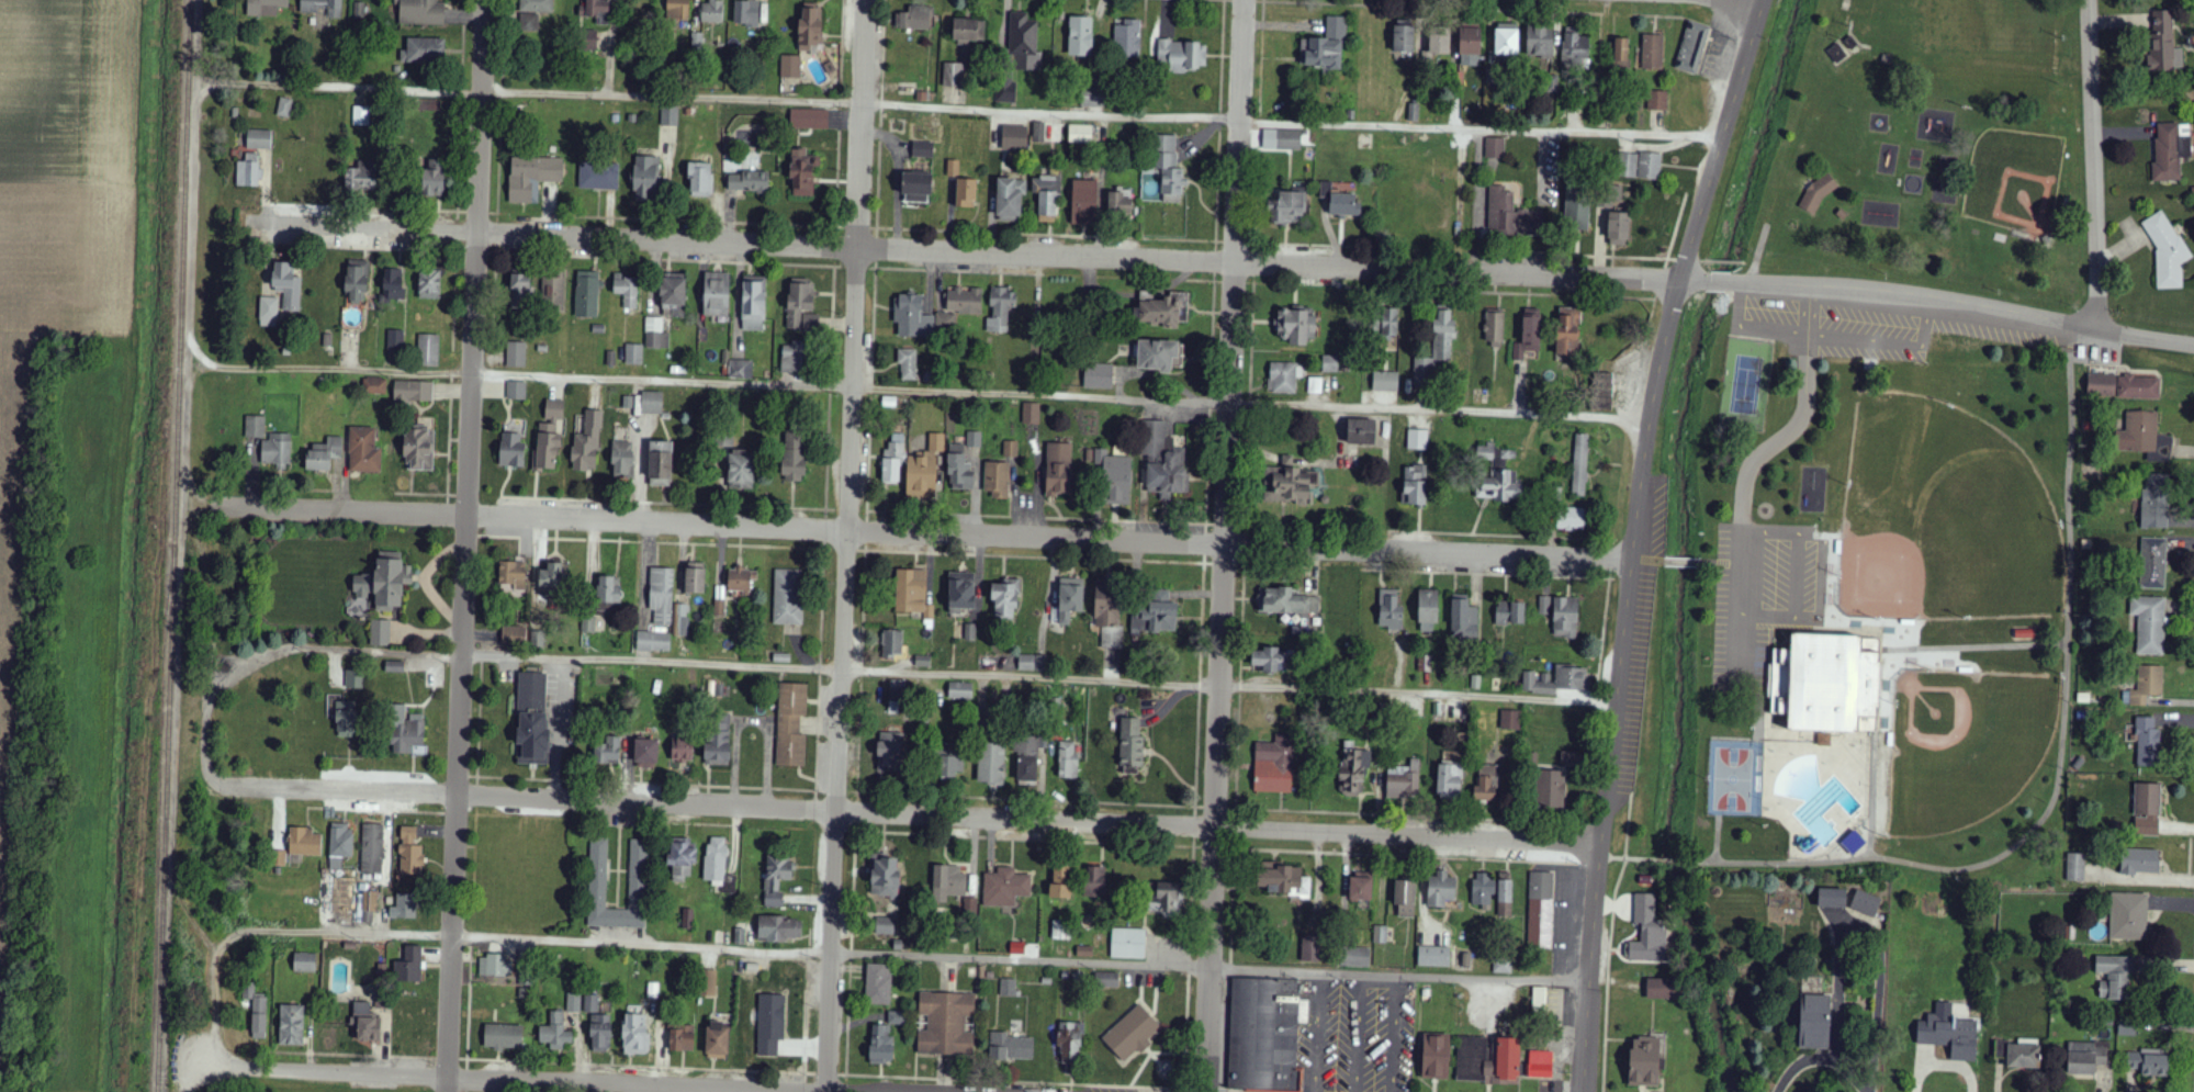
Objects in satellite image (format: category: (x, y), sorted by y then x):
road: (1244, 0)
building: (266, 7)
building: (323, 7)
building: (677, 10)
building: (598, 11)
building: (420, 12)
building: (712, 12)
building: (532, 13)
building: (746, 13)
building: (914, 19)
building: (810, 27)
building: (966, 30)
building: (1080, 36)
building: (1404, 38)
building: (1128, 40)
building: (1507, 40)
building: (589, 41)
building: (1439, 42)
building: (1540, 42)
building: (1023, 43)
building: (1470, 45)
building: (2164, 45)
building: (1325, 47)
building: (1576, 48)
road: (1262, 49)
building: (1621, 49)
building: (1692, 49)
building: (423, 50)
building: (1652, 52)
building: (1182, 55)
building: (790, 67)
building: (953, 77)
crop: (68, 90)
building: (1005, 90)
building: (1093, 100)
building: (1657, 101)
building: (284, 108)
road: (958, 108)
road: (461, 111)
road: (839, 113)
road: (880, 113)
building: (361, 116)
building: (670, 116)
road: (1219, 116)
building: (809, 120)
building: (1080, 134)
building: (1014, 137)
building: (259, 139)
building: (1287, 140)
building: (1495, 148)
park: (1926, 148)
building: (922, 149)
building: (2170, 151)
road: (498, 160)
road: (2088, 165)
building: (1629, 166)
building: (1650, 166)
building: (953, 168)
building: (1169, 168)
building: (248, 171)
building: (802, 173)
building: (532, 176)
building: (598, 176)
building: (360, 179)
building: (645, 179)
building: (700, 180)
park: (2015, 180)
building: (432, 182)
building: (747, 182)
building: (916, 188)
building: (1326, 190)
building: (966, 193)
building: (1818, 193)
building: (1047, 195)
building: (1010, 199)
building: (1084, 202)
building: (1118, 203)
building: (1344, 205)
building: (1285, 207)
road: (359, 209)
building: (1500, 210)
building: (1577, 210)
road: (462, 212)
road: (477, 212)
building: (1842, 214)
road: (707, 223)
road: (369, 228)
road: (839, 228)
road: (856, 228)
road: (877, 229)
building: (1619, 229)
road: (457, 232)
road: (1050, 235)
road: (1219, 241)
road: (1236, 243)
road: (1294, 244)
road: (497, 249)
road: (876, 249)
building: (2167, 251)
road: (1091, 257)
road: (649, 259)
road: (1672, 260)
road: (1215, 261)
road: (1687, 261)
road: (1251, 262)
road: (1702, 262)
road: (1722, 262)
road: (1743, 263)
road: (876, 266)
road: (854, 267)
road: (873, 268)
road: (901, 269)
road: (1215, 278)
road: (1160, 280)
building: (357, 281)
road: (1719, 281)
road: (1234, 282)
road: (1250, 282)
building: (393, 284)
building: (288, 285)
building: (429, 285)
road: (1355, 286)
building: (553, 290)
building: (520, 291)
building: (627, 292)
building: (586, 294)
building: (716, 294)
road: (454, 295)
building: (673, 295)
building: (798, 301)
building: (965, 302)
building: (753, 304)
road: (1965, 304)
building: (1000, 309)
building: (268, 312)
building: (1166, 312)
building: (912, 317)
building: (946, 320)
building: (811, 322)
building: (1389, 323)
building: (1296, 326)
building: (1494, 327)
parking lot: (1893, 329)
road: (1212, 333)
building: (1568, 333)
building: (656, 334)
building: (1529, 335)
building: (395, 341)
building: (1437, 349)
building: (428, 350)
building: (516, 354)
building: (633, 354)
building: (1157, 356)
building: (795, 358)
building: (1330, 364)
building: (909, 365)
building: (741, 370)
building: (1098, 376)
building: (1284, 378)
building: (1385, 382)
park: (1744, 382)
road: (829, 384)
building: (374, 385)
building: (2102, 386)
road: (913, 387)
building: (2138, 387)
building: (516, 391)
building: (413, 393)
road: (1208, 399)
building: (651, 403)
building: (1031, 414)
road: (1801, 416)
road: (185, 421)
building: (255, 427)
building: (1361, 432)
building: (549, 437)
building: (2145, 437)
building: (974, 439)
building: (1418, 440)
building: (587, 444)
building: (420, 446)
building: (1011, 449)
building: (511, 450)
building: (277, 451)
building: (363, 451)
building: (324, 454)
building: (622, 459)
building: (794, 459)
building: (892, 461)
building: (1161, 462)
road: (449, 463)
building: (660, 464)
building: (1580, 465)
road: (1207, 468)
building: (959, 469)
building: (741, 470)
building: (924, 470)
building: (1059, 470)
road: (868, 471)
building: (1115, 477)
building: (1498, 477)
building: (997, 480)
building: (1289, 483)
building: (1416, 486)
road: (448, 496)
building: (2154, 502)
road: (664, 504)
road: (825, 510)
road: (347, 511)
road: (846, 511)
road: (867, 513)
park: (1943, 516)
road: (1039, 518)
building: (1571, 519)
road: (1225, 525)
road: (824, 530)
road: (866, 532)
road: (1416, 532)
road: (1049, 536)
road: (1633, 540)
road: (650, 543)
road: (1204, 544)
railway: (171, 545)
road: (466, 545)
road: (843, 545)
road: (1222, 545)
road: (1245, 547)
road: (829, 550)
road: (845, 550)
road: (862, 550)
road: (1035, 558)
road: (1204, 560)
road: (1245, 562)
road: (1662, 562)
road: (1683, 562)
road: (1708, 563)
building: (2153, 563)
road: (1224, 565)
road: (1487, 574)
building: (513, 575)
road: (1797, 576)
building: (695, 578)
building: (390, 581)
building: (741, 581)
building: (551, 583)
building: (362, 587)
building: (608, 590)
building: (913, 593)
building: (961, 593)
building: (662, 596)
building: (787, 597)
parking lot: (1763, 597)
building: (1070, 599)
road: (1739, 599)
building: (1004, 600)
building: (1286, 603)
building: (1106, 605)
road: (863, 606)
building: (1544, 606)
building: (1428, 608)
building: (1391, 610)
building: (1510, 613)
building: (1156, 615)
building: (1565, 618)
building: (680, 620)
building: (1464, 620)
building: (588, 624)
building: (2149, 624)
building: (380, 633)
parking lot: (1641, 635)
building: (514, 637)
building: (1112, 638)
building: (653, 642)
building: (891, 644)
building: (1272, 662)
building: (1032, 663)
road: (819, 669)
road: (854, 671)
building: (355, 680)
building: (1556, 682)
building: (1827, 683)
building: (2147, 686)
road: (1199, 689)
road: (1239, 689)
building: (897, 690)
building: (960, 691)
crop: (7, 701)
building: (344, 716)
building: (531, 718)
building: (1510, 720)
building: (790, 725)
building: (405, 731)
road: (859, 740)
building: (1824, 740)
building: (718, 742)
park: (1962, 742)
building: (2148, 743)
building: (1130, 746)
building: (682, 750)
building: (608, 752)
building: (890, 752)
building: (646, 754)
building: (1028, 758)
building: (1068, 761)
building: (947, 762)
building: (991, 765)
building: (1273, 768)
building: (1353, 769)
road: (2058, 774)
park: (1735, 778)
road: (595, 781)
building: (1404, 781)
building: (1450, 781)
building: (1486, 785)
road: (339, 789)
building: (1551, 791)
road: (1023, 800)
road: (1216, 808)
road: (1233, 809)
building: (2148, 810)
road: (376, 811)
road: (1195, 811)
road: (857, 812)
road: (1025, 819)
road: (1534, 822)
road: (693, 824)
road: (1237, 825)
road: (1194, 826)
road: (1629, 826)
road: (857, 828)
building: (304, 843)
road: (1193, 843)
building: (1853, 843)
building: (340, 845)
road: (1214, 848)
building: (372, 849)
building: (410, 853)
road: (1400, 856)
building: (279, 858)
building: (682, 858)
road: (1618, 858)
road: (1646, 859)
building: (716, 860)
road: (1594, 862)
road: (1677, 862)
building: (2140, 862)
building: (2075, 867)
building: (639, 875)
building: (884, 877)
building: (1283, 880)
building: (776, 881)
building: (948, 883)
building: (1060, 885)
building: (1095, 885)
building: (1004, 887)
building: (1361, 891)
building: (1441, 891)
building: (1483, 892)
building: (1505, 894)
building: (1832, 899)
building: (1168, 900)
building: (1406, 900)
road: (1191, 901)
road: (1233, 902)
road: (183, 903)
building: (1866, 904)
building: (404, 907)
building: (970, 908)
building: (1540, 911)
building: (2128, 917)
building: (687, 919)
building: (885, 926)
building: (778, 927)
building: (1649, 932)
building: (1381, 934)
building: (1128, 944)
building: (1309, 946)
road: (840, 955)
building: (1434, 956)
building: (1355, 957)
building: (304, 962)
building: (409, 965)
building: (495, 965)
road: (1189, 965)
road: (1607, 973)
building: (2112, 977)
building: (1106, 979)
building: (710, 983)
building: (878, 983)
building: (1008, 988)
building: (1662, 988)
building: (1539, 999)
building: (574, 1003)
building: (592, 1003)
road: (848, 1006)
building: (256, 1011)
building: (896, 1017)
building: (1815, 1021)
building: (364, 1023)
building: (946, 1023)
building: (291, 1024)
building: (770, 1024)
road: (1317, 1031)
road: (1360, 1031)
building: (555, 1032)
building: (600, 1032)
road: (1394, 1032)
building: (1133, 1033)
building: (1949, 1033)
building: (635, 1034)
building: (1267, 1035)
building: (503, 1036)
building: (682, 1037)
building: (1069, 1039)
building: (717, 1040)
building: (881, 1044)
building: (1011, 1047)
building: (2001, 1049)
road: (346, 1055)
building: (1436, 1056)
building: (2024, 1056)
building: (2086, 1057)
road: (448, 1059)
road: (1821, 1060)
building: (1644, 1061)
building: (2149, 1061)
building: (1492, 1062)
building: (1540, 1063)
road: (468, 1065)
road: (325, 1067)
road: (639, 1067)
road: (181, 1068)
road: (828, 1074)
road: (842, 1076)
road: (466, 1080)
road: (649, 1082)
road: (1184, 1090)
road: (1203, 1090)

